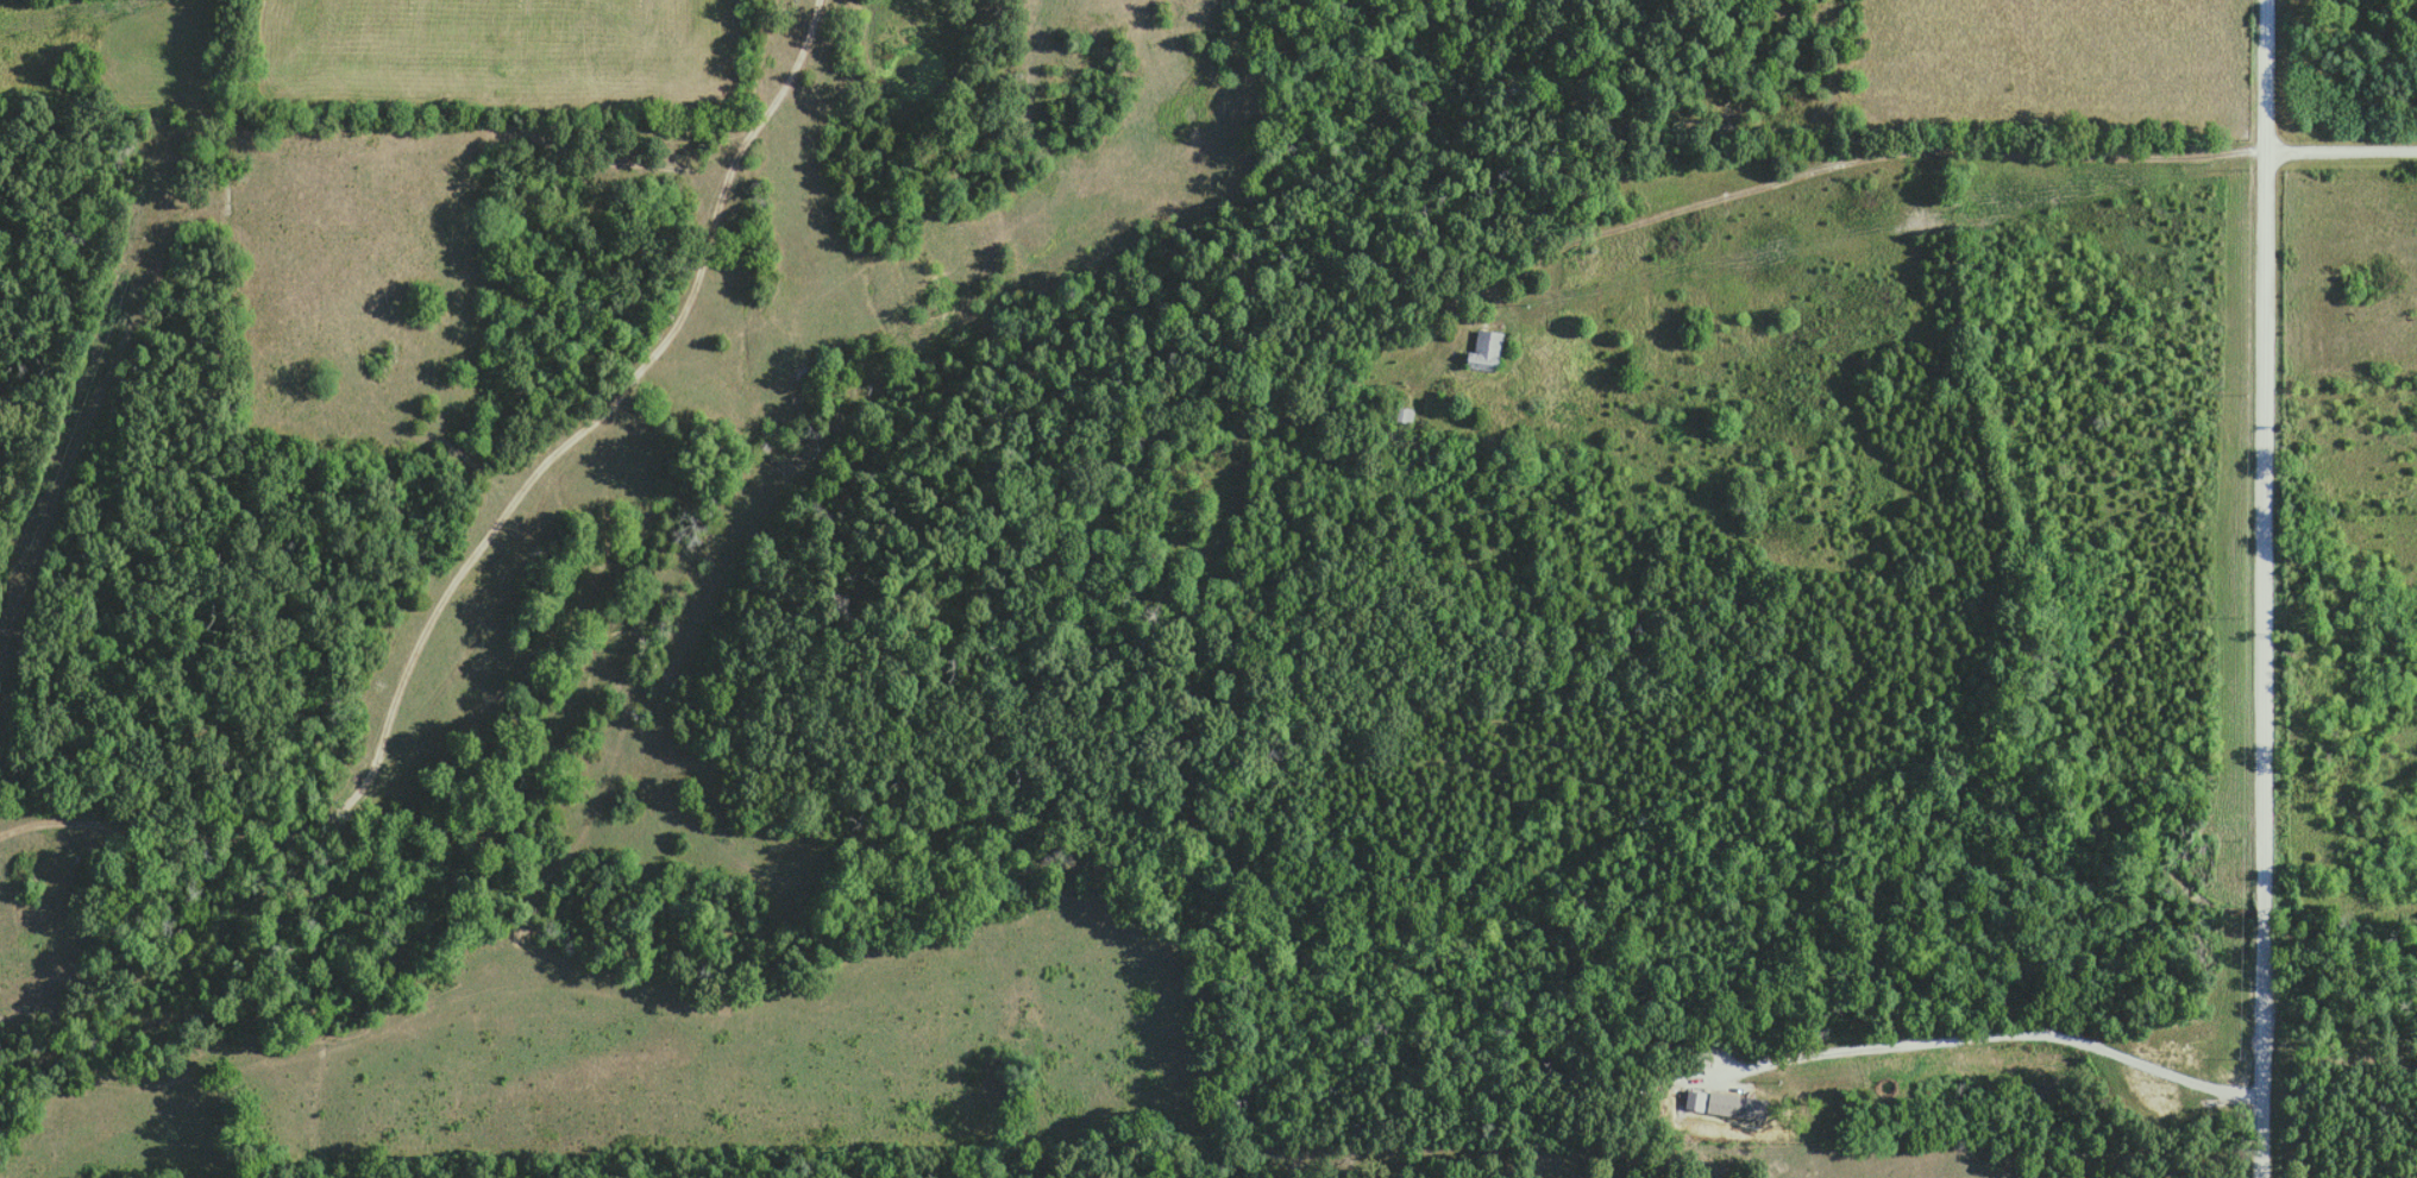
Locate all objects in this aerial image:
road: (2341, 149)
road: (1854, 153)
building: (1487, 348)
building: (1404, 414)
road: (477, 536)
road: (2260, 588)
road: (1985, 1033)

